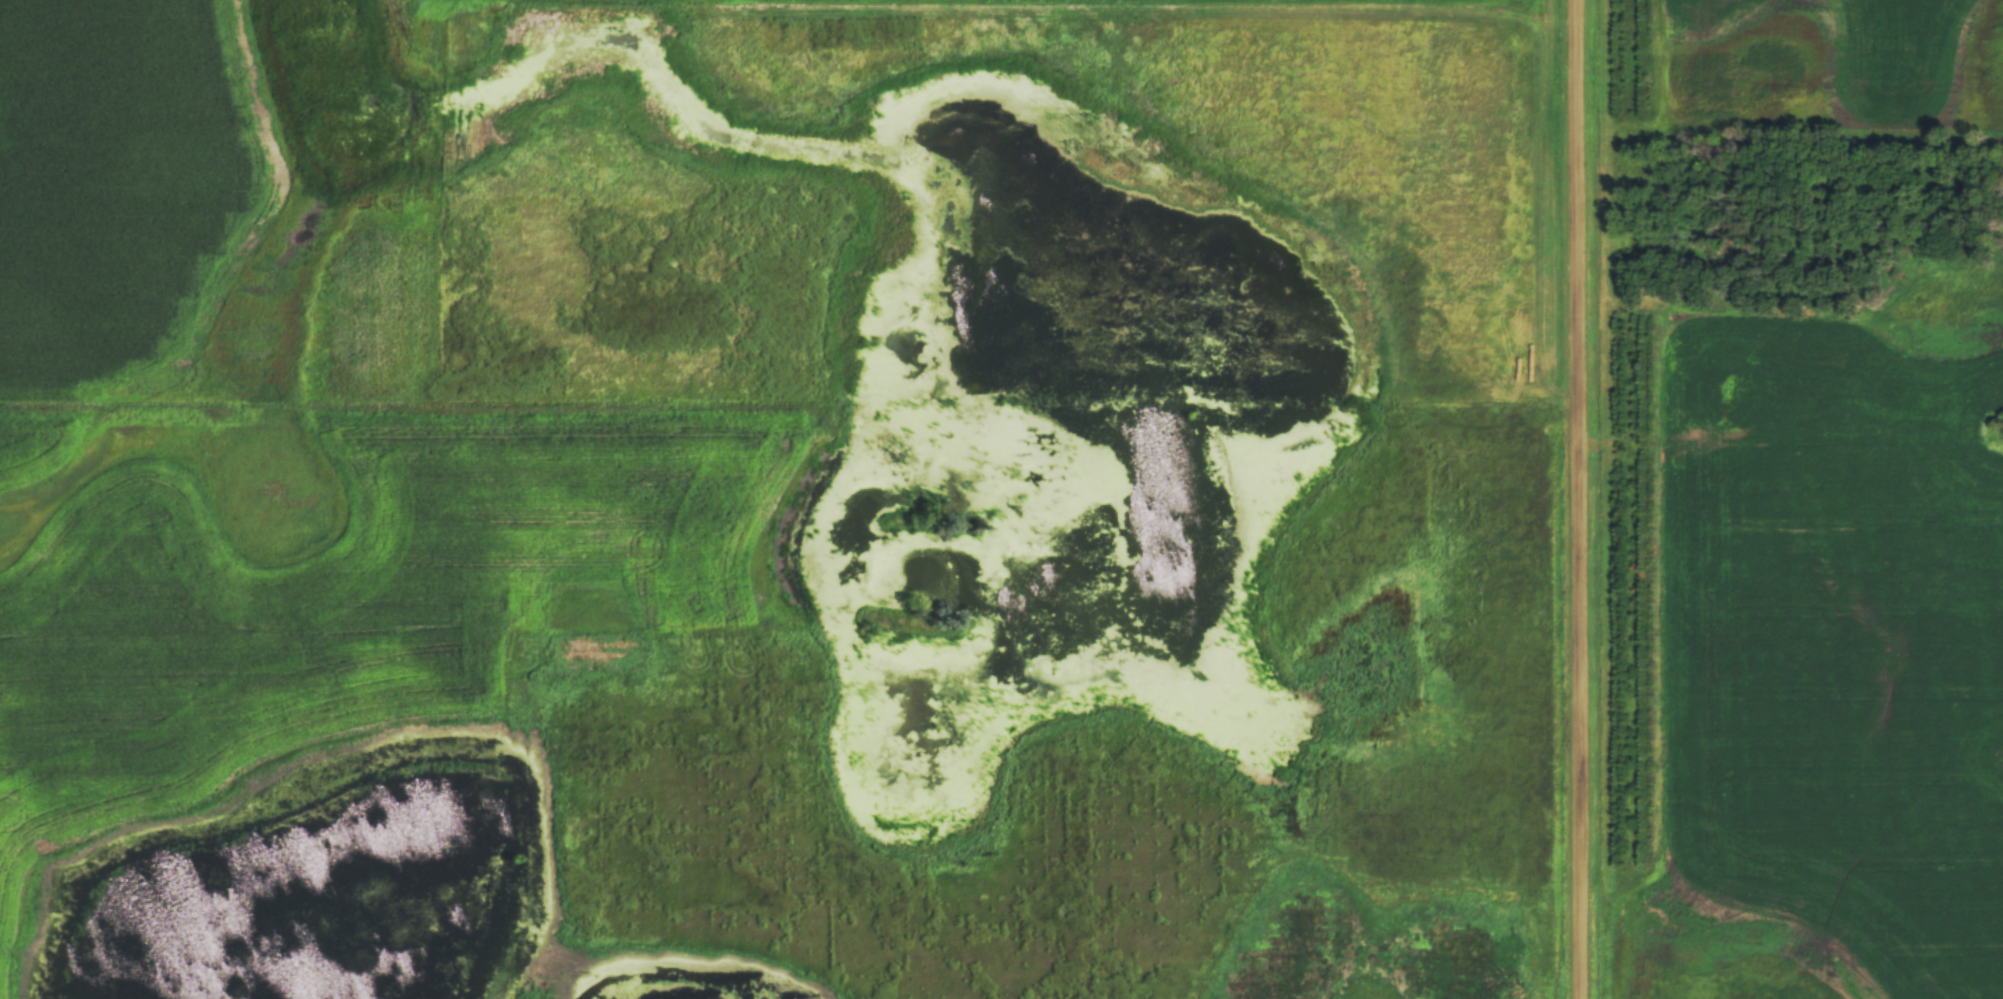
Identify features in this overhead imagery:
road: (1581, 499)

